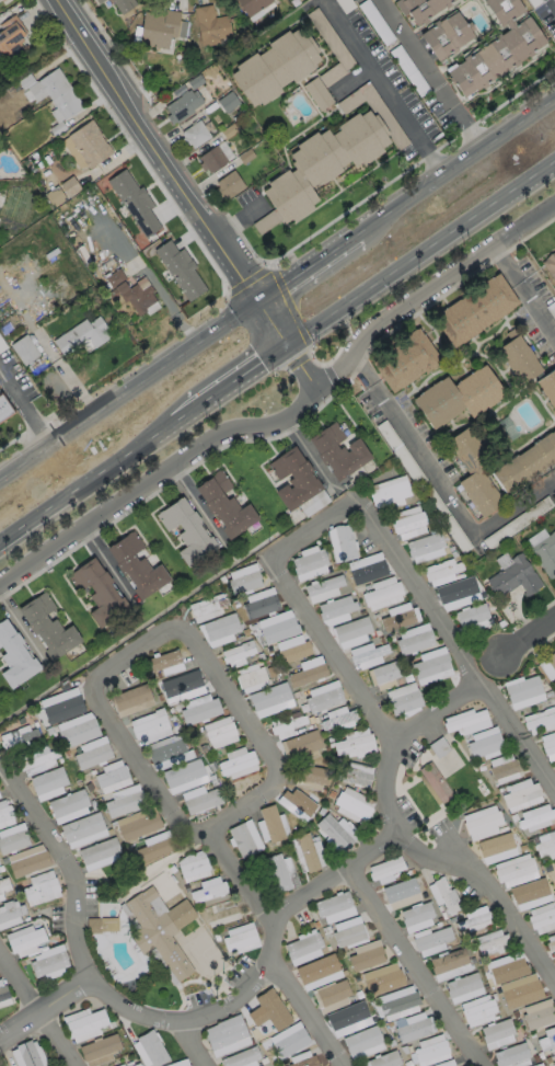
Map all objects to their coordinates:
road: (554, 0)
building: (97, 1)
building: (123, 4)
building: (252, 5)
building: (421, 11)
building: (500, 13)
building: (210, 25)
building: (158, 27)
building: (11, 37)
building: (444, 38)
road: (417, 53)
building: (494, 61)
building: (275, 66)
building: (328, 76)
road: (351, 77)
road: (384, 89)
building: (316, 93)
building: (53, 96)
building: (227, 101)
building: (182, 105)
road: (470, 127)
building: (194, 134)
building: (89, 144)
building: (72, 152)
building: (211, 159)
building: (321, 163)
road: (456, 168)
road: (176, 173)
building: (229, 184)
building: (62, 191)
building: (134, 202)
building: (265, 221)
road: (424, 257)
building: (550, 264)
road: (310, 265)
building: (180, 268)
road: (527, 288)
building: (131, 293)
road: (429, 293)
traffic signals: (261, 298)
building: (473, 312)
building: (8, 319)
building: (81, 335)
building: (24, 348)
traffic signals: (293, 348)
building: (516, 362)
building: (402, 364)
road: (130, 387)
road: (234, 388)
building: (547, 390)
building: (455, 400)
road: (23, 408)
building: (5, 412)
building: (337, 450)
road: (309, 455)
building: (524, 465)
road: (176, 469)
building: (471, 474)
building: (293, 478)
road: (439, 482)
road: (88, 488)
building: (389, 490)
building: (224, 504)
road: (199, 506)
building: (408, 521)
building: (186, 531)
building: (344, 541)
building: (425, 547)
building: (545, 553)
building: (309, 564)
road: (112, 565)
building: (137, 565)
building: (367, 568)
building: (441, 571)
building: (514, 576)
building: (243, 578)
building: (323, 588)
building: (99, 592)
road: (297, 593)
building: (382, 593)
building: (259, 603)
building: (207, 606)
building: (335, 606)
building: (471, 615)
building: (398, 616)
building: (47, 626)
building: (277, 626)
building: (220, 627)
road: (23, 628)
building: (351, 631)
road: (169, 635)
road: (529, 637)
building: (414, 638)
building: (291, 647)
building: (236, 653)
building: (367, 654)
building: (14, 655)
building: (161, 660)
building: (552, 661)
building: (430, 665)
building: (308, 670)
building: (384, 675)
building: (250, 677)
building: (181, 683)
building: (522, 691)
building: (322, 697)
building: (403, 698)
building: (131, 699)
building: (61, 704)
building: (199, 708)
road: (432, 711)
building: (337, 719)
building: (540, 720)
building: (465, 721)
building: (149, 726)
building: (287, 726)
building: (77, 729)
building: (219, 731)
building: (16, 735)
building: (302, 743)
building: (355, 743)
building: (485, 743)
building: (548, 745)
building: (92, 753)
building: (166, 753)
building: (37, 759)
building: (236, 763)
building: (504, 768)
building: (354, 772)
building: (111, 773)
building: (310, 776)
building: (436, 782)
building: (47, 783)
building: (520, 794)
building: (200, 800)
building: (125, 803)
building: (68, 805)
building: (352, 805)
building: (5, 812)
building: (535, 817)
building: (482, 822)
building: (138, 823)
building: (270, 824)
building: (82, 829)
building: (336, 832)
building: (244, 838)
building: (13, 840)
building: (545, 845)
building: (154, 846)
building: (496, 848)
building: (307, 852)
building: (99, 853)
building: (27, 862)
building: (193, 867)
building: (554, 868)
building: (385, 869)
building: (514, 870)
building: (281, 872)
building: (4, 883)
building: (41, 887)
building: (208, 889)
building: (400, 892)
building: (443, 895)
building: (334, 906)
building: (13, 910)
building: (415, 916)
building: (542, 917)
building: (475, 919)
building: (102, 924)
building: (161, 928)
building: (348, 932)
building: (240, 938)
building: (25, 940)
building: (430, 940)
building: (492, 941)
building: (551, 943)
building: (303, 948)
road: (280, 951)
building: (366, 955)
building: (48, 960)
building: (449, 964)
road: (413, 967)
building: (317, 972)
building: (382, 978)
building: (463, 987)
building: (3, 993)
building: (520, 994)
building: (329, 995)
building: (396, 1004)
road: (39, 1008)
building: (477, 1010)
road: (46, 1013)
building: (537, 1013)
building: (267, 1015)
road: (161, 1020)
building: (348, 1020)
building: (83, 1023)
building: (413, 1025)
building: (224, 1031)
building: (497, 1033)
building: (547, 1039)
building: (362, 1042)
road: (199, 1043)
building: (99, 1048)
building: (149, 1048)
building: (429, 1051)
building: (27, 1054)
building: (554, 1054)
building: (511, 1056)
building: (241, 1057)
building: (303, 1059)
building: (383, 1059)
building: (178, 1063)
building: (444, 1063)
building: (553, 1063)
building: (135, 1064)
building: (119, 1065)
building: (541, 1065)

